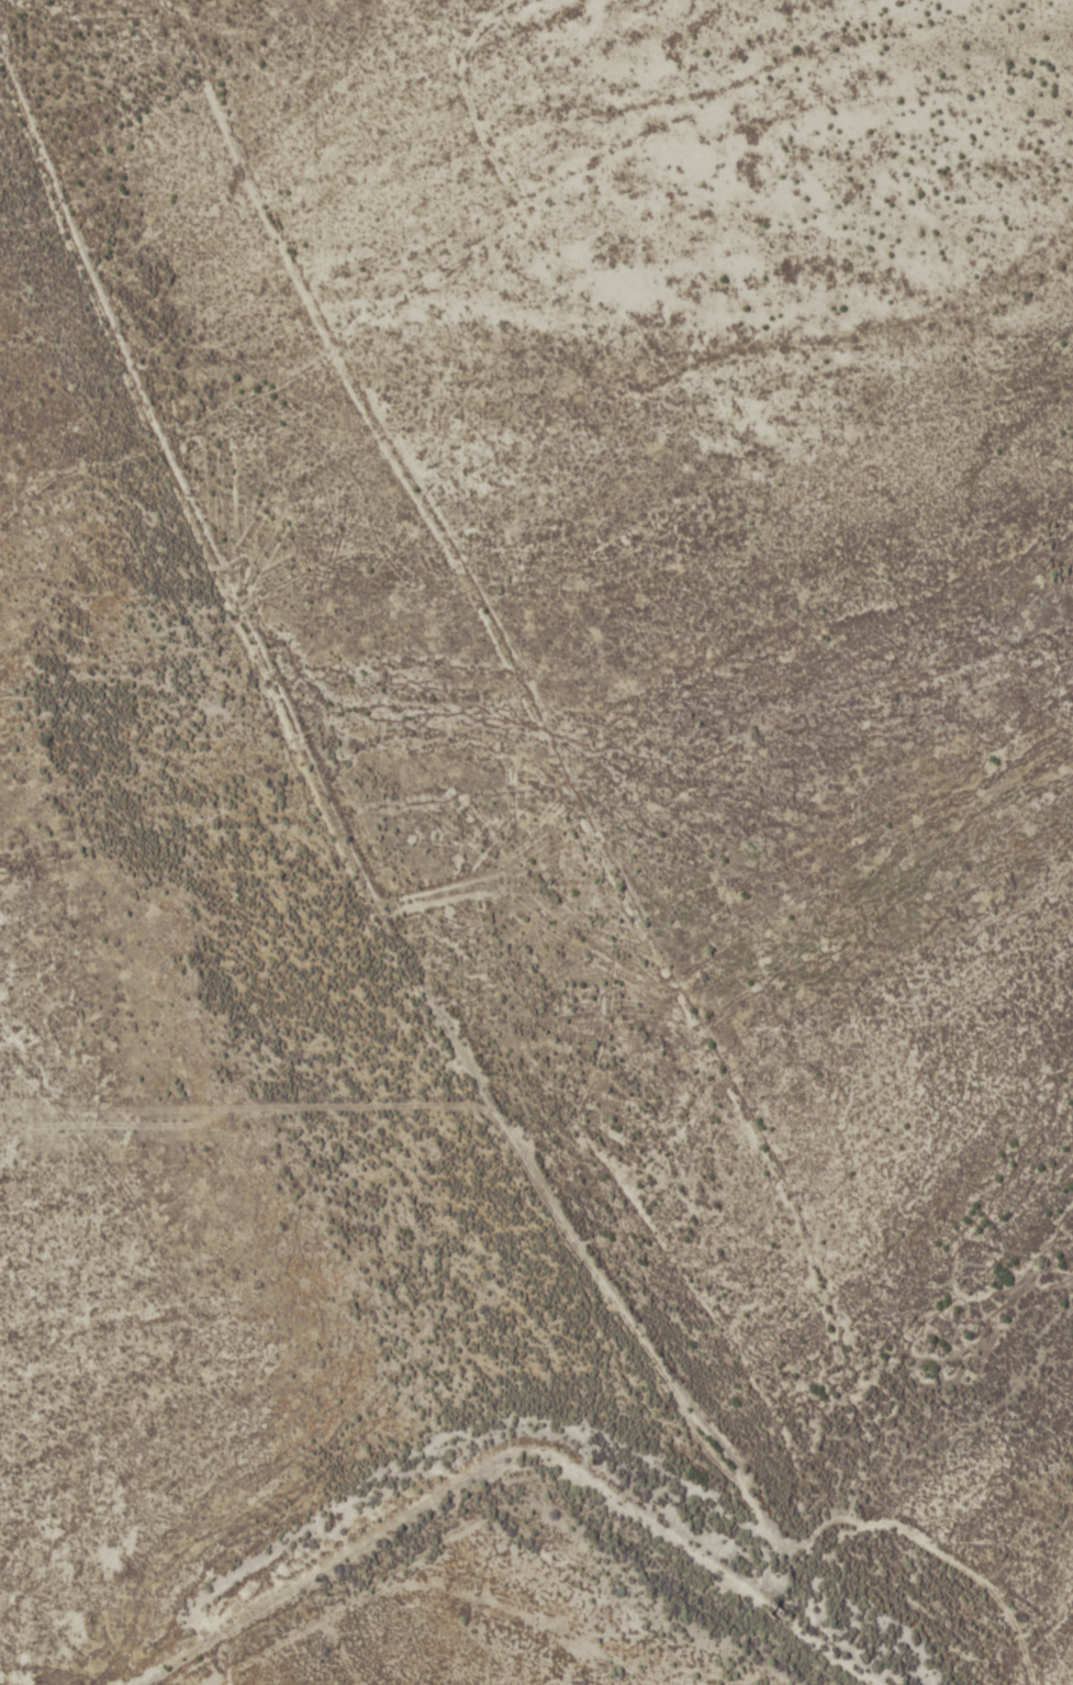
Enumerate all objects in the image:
crop: (536, 843)
road: (937, 1652)

